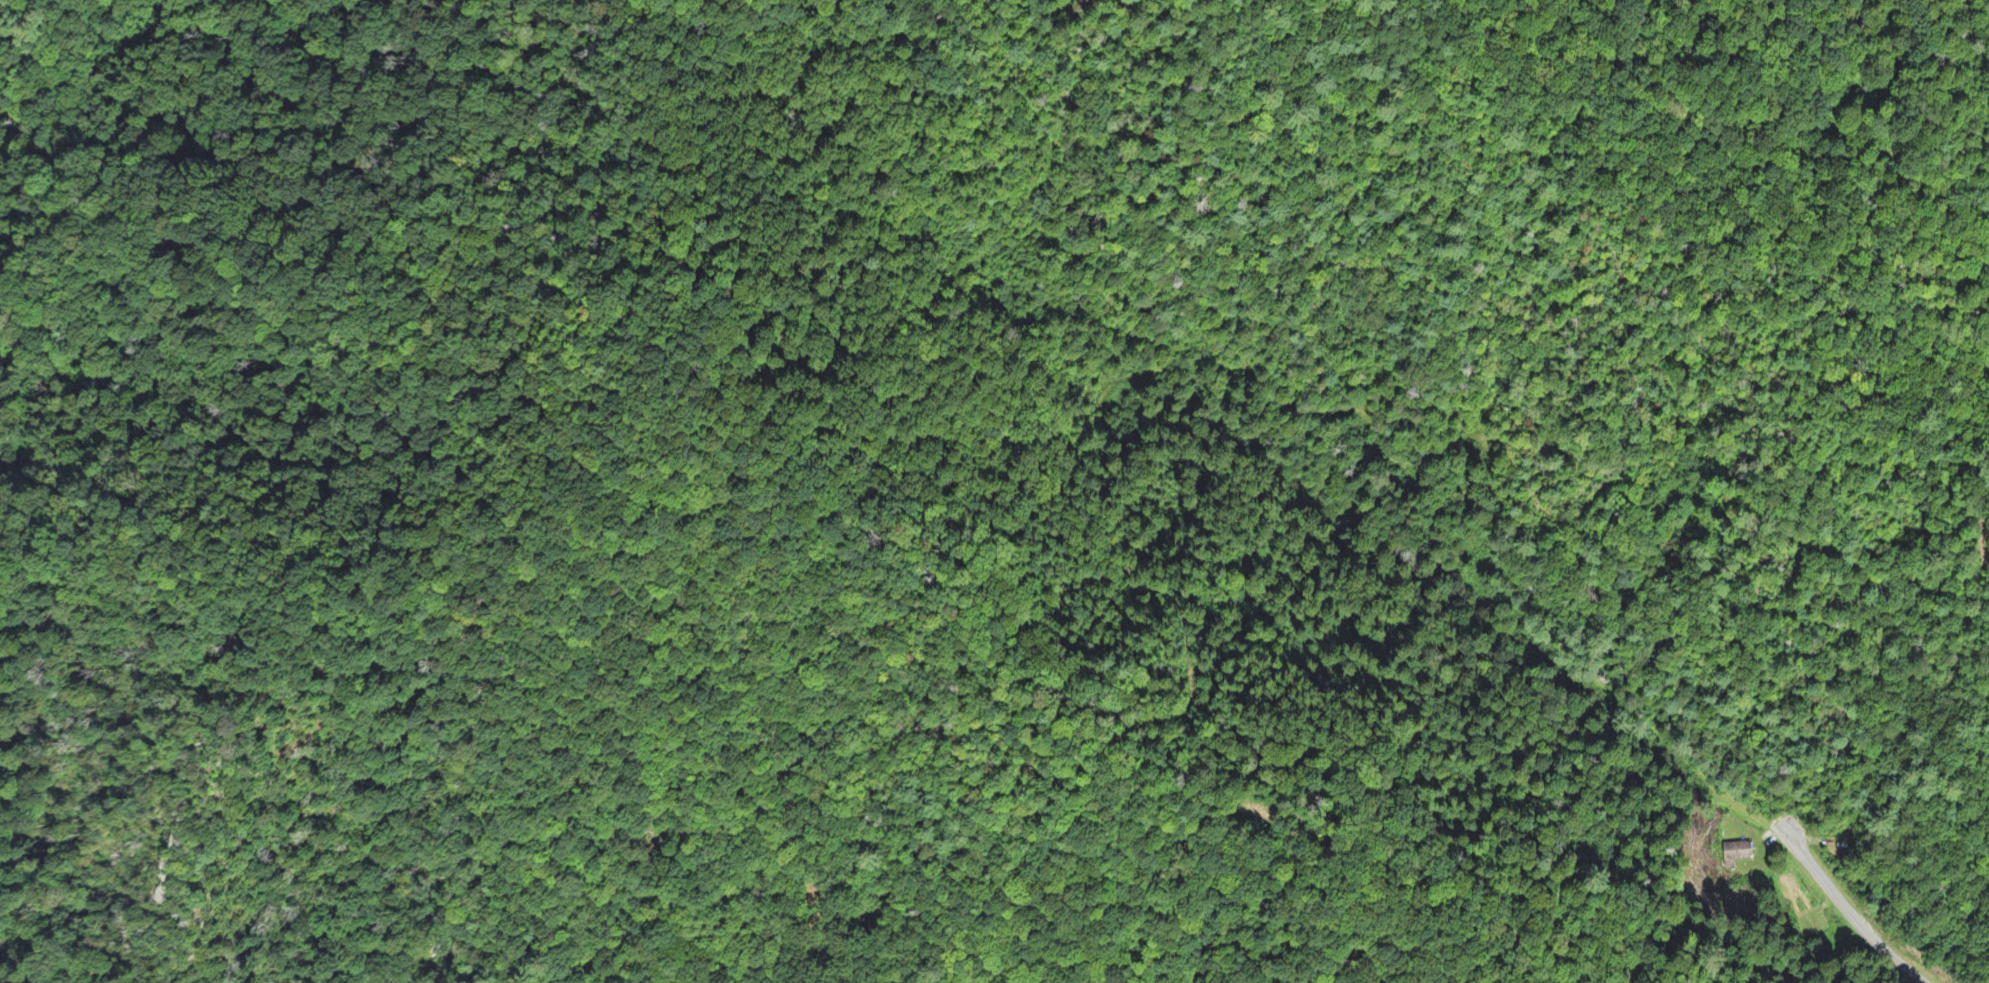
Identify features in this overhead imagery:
building: (1733, 853)
road: (1845, 910)

